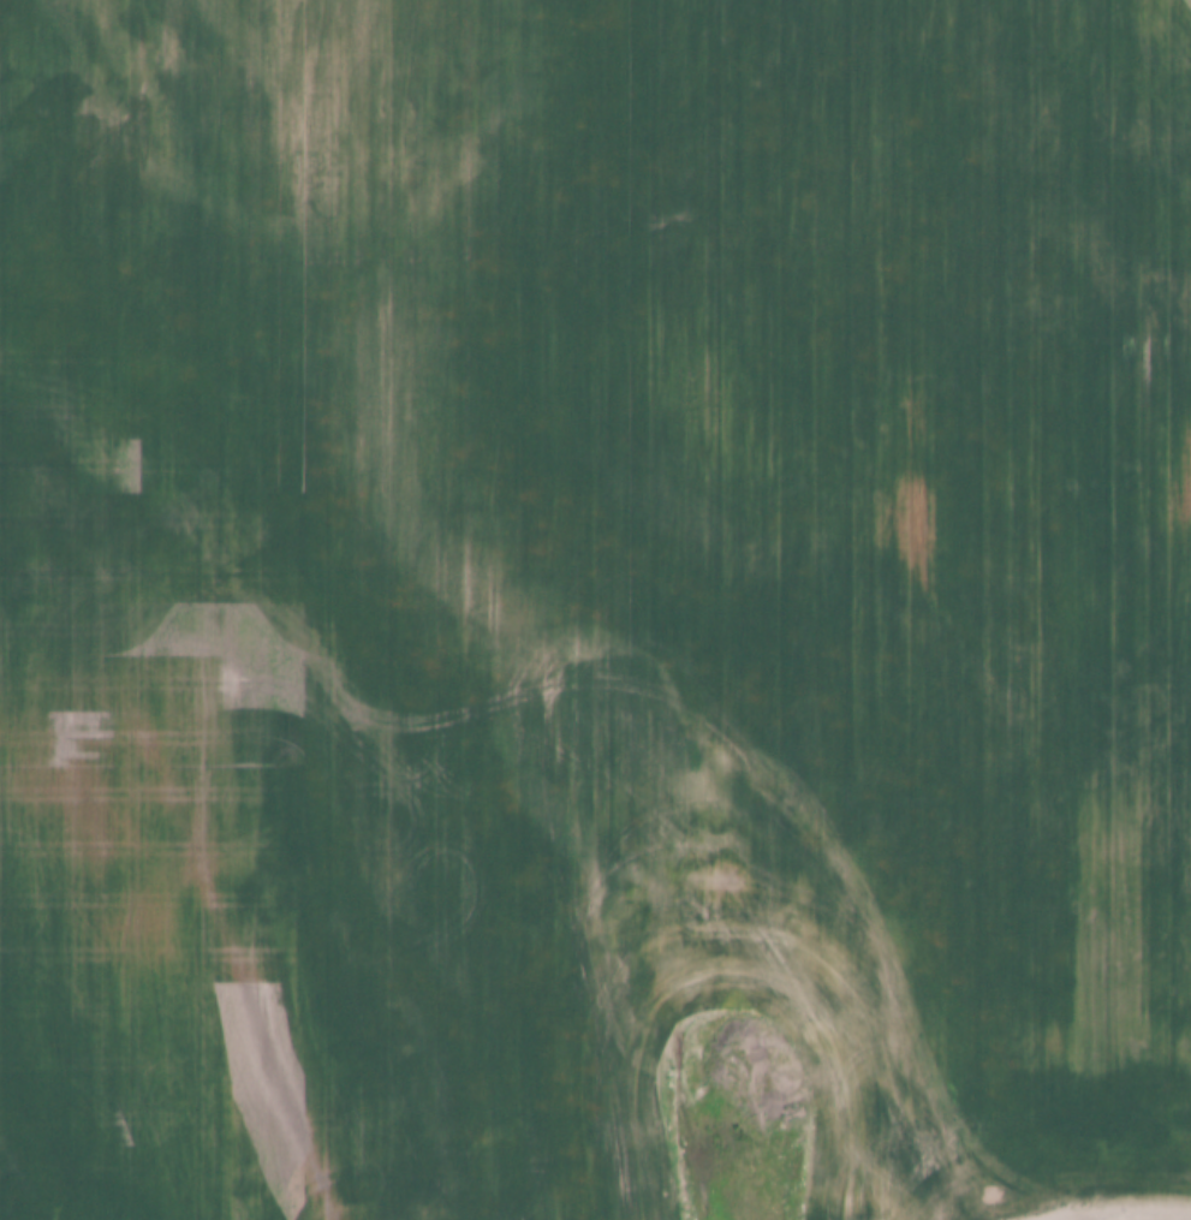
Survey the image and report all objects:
quarry: (748, 1010)
road: (1119, 1218)

